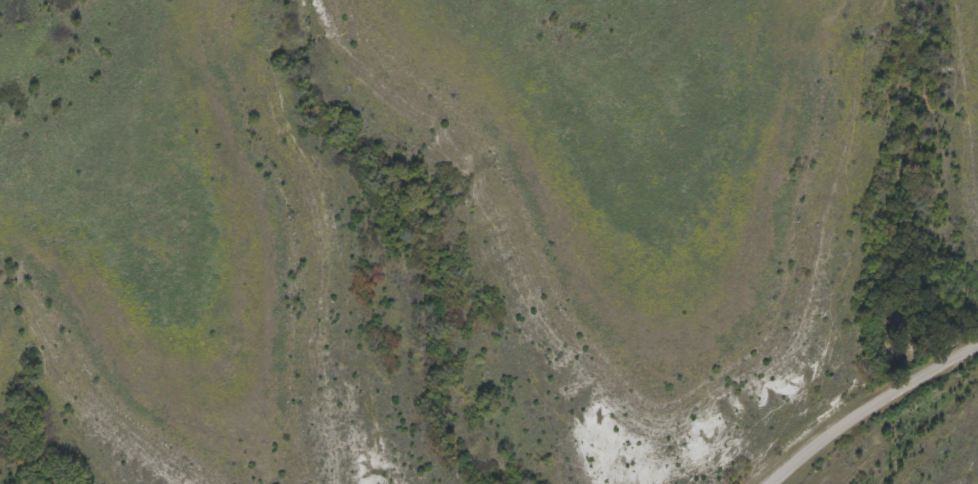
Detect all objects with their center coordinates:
road: (868, 404)

